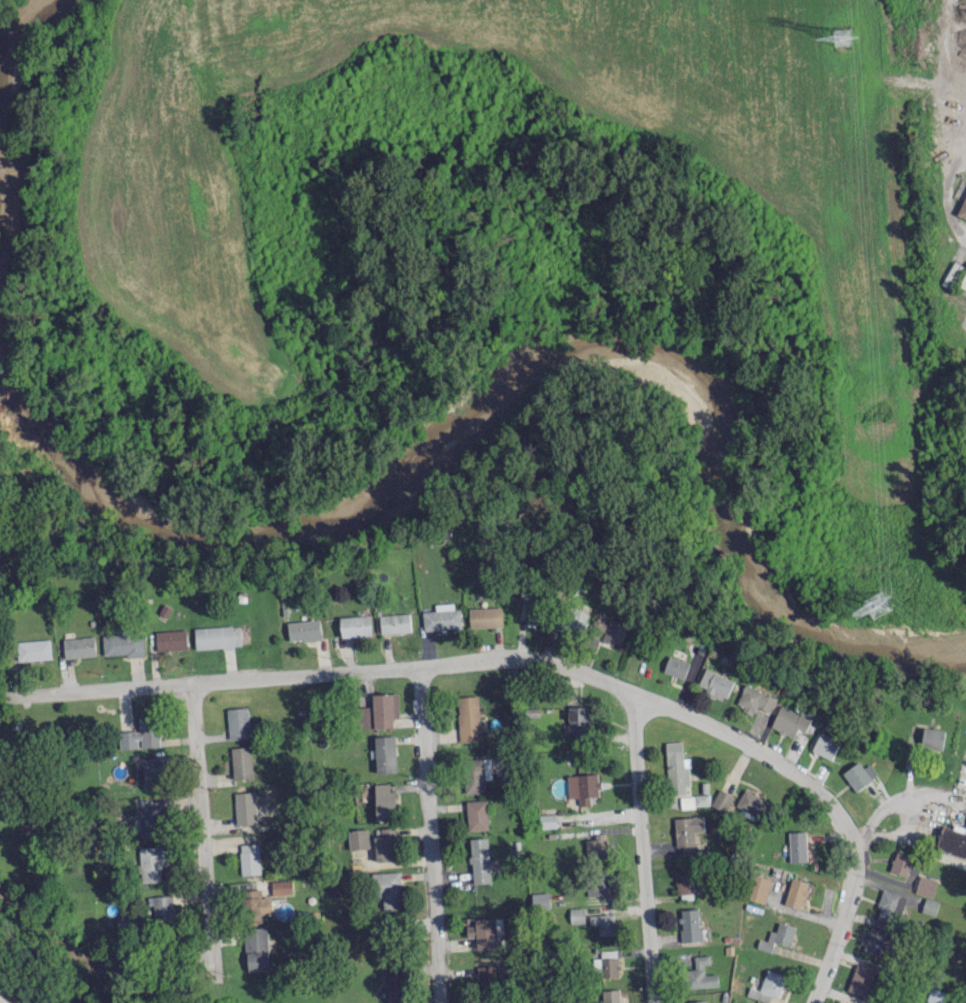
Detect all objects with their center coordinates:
power tower: (839, 35)
building: (962, 208)
building: (963, 282)
power tower: (873, 603)
building: (536, 615)
building: (485, 616)
building: (442, 617)
building: (577, 619)
building: (395, 622)
building: (355, 625)
building: (303, 629)
building: (613, 631)
building: (216, 636)
building: (171, 639)
building: (124, 641)
building: (79, 646)
building: (33, 649)
road: (462, 661)
building: (677, 666)
building: (716, 683)
building: (756, 699)
building: (378, 711)
building: (579, 714)
building: (468, 717)
building: (790, 721)
building: (237, 722)
building: (141, 733)
building: (932, 738)
building: (825, 746)
building: (385, 753)
building: (241, 762)
building: (677, 768)
building: (153, 770)
building: (476, 774)
building: (859, 774)
building: (584, 787)
building: (722, 799)
building: (384, 800)
building: (695, 800)
building: (753, 803)
building: (244, 807)
building: (477, 814)
building: (152, 819)
building: (548, 820)
road: (204, 828)
building: (688, 832)
road: (432, 834)
building: (357, 838)
building: (952, 839)
building: (385, 844)
building: (797, 845)
building: (596, 846)
road: (644, 847)
building: (249, 858)
building: (479, 859)
building: (153, 861)
building: (901, 862)
building: (690, 882)
building: (598, 885)
building: (925, 885)
building: (281, 886)
building: (758, 887)
building: (387, 889)
building: (796, 892)
building: (540, 900)
building: (254, 905)
building: (889, 906)
building: (929, 906)
building: (162, 908)
building: (577, 914)
building: (604, 923)
road: (841, 923)
building: (690, 924)
building: (485, 931)
building: (777, 936)
building: (872, 941)
building: (256, 947)
building: (609, 963)
building: (487, 973)
building: (701, 973)
building: (860, 979)
building: (396, 984)
building: (768, 986)
building: (611, 996)
building: (936, 996)
building: (697, 1001)

